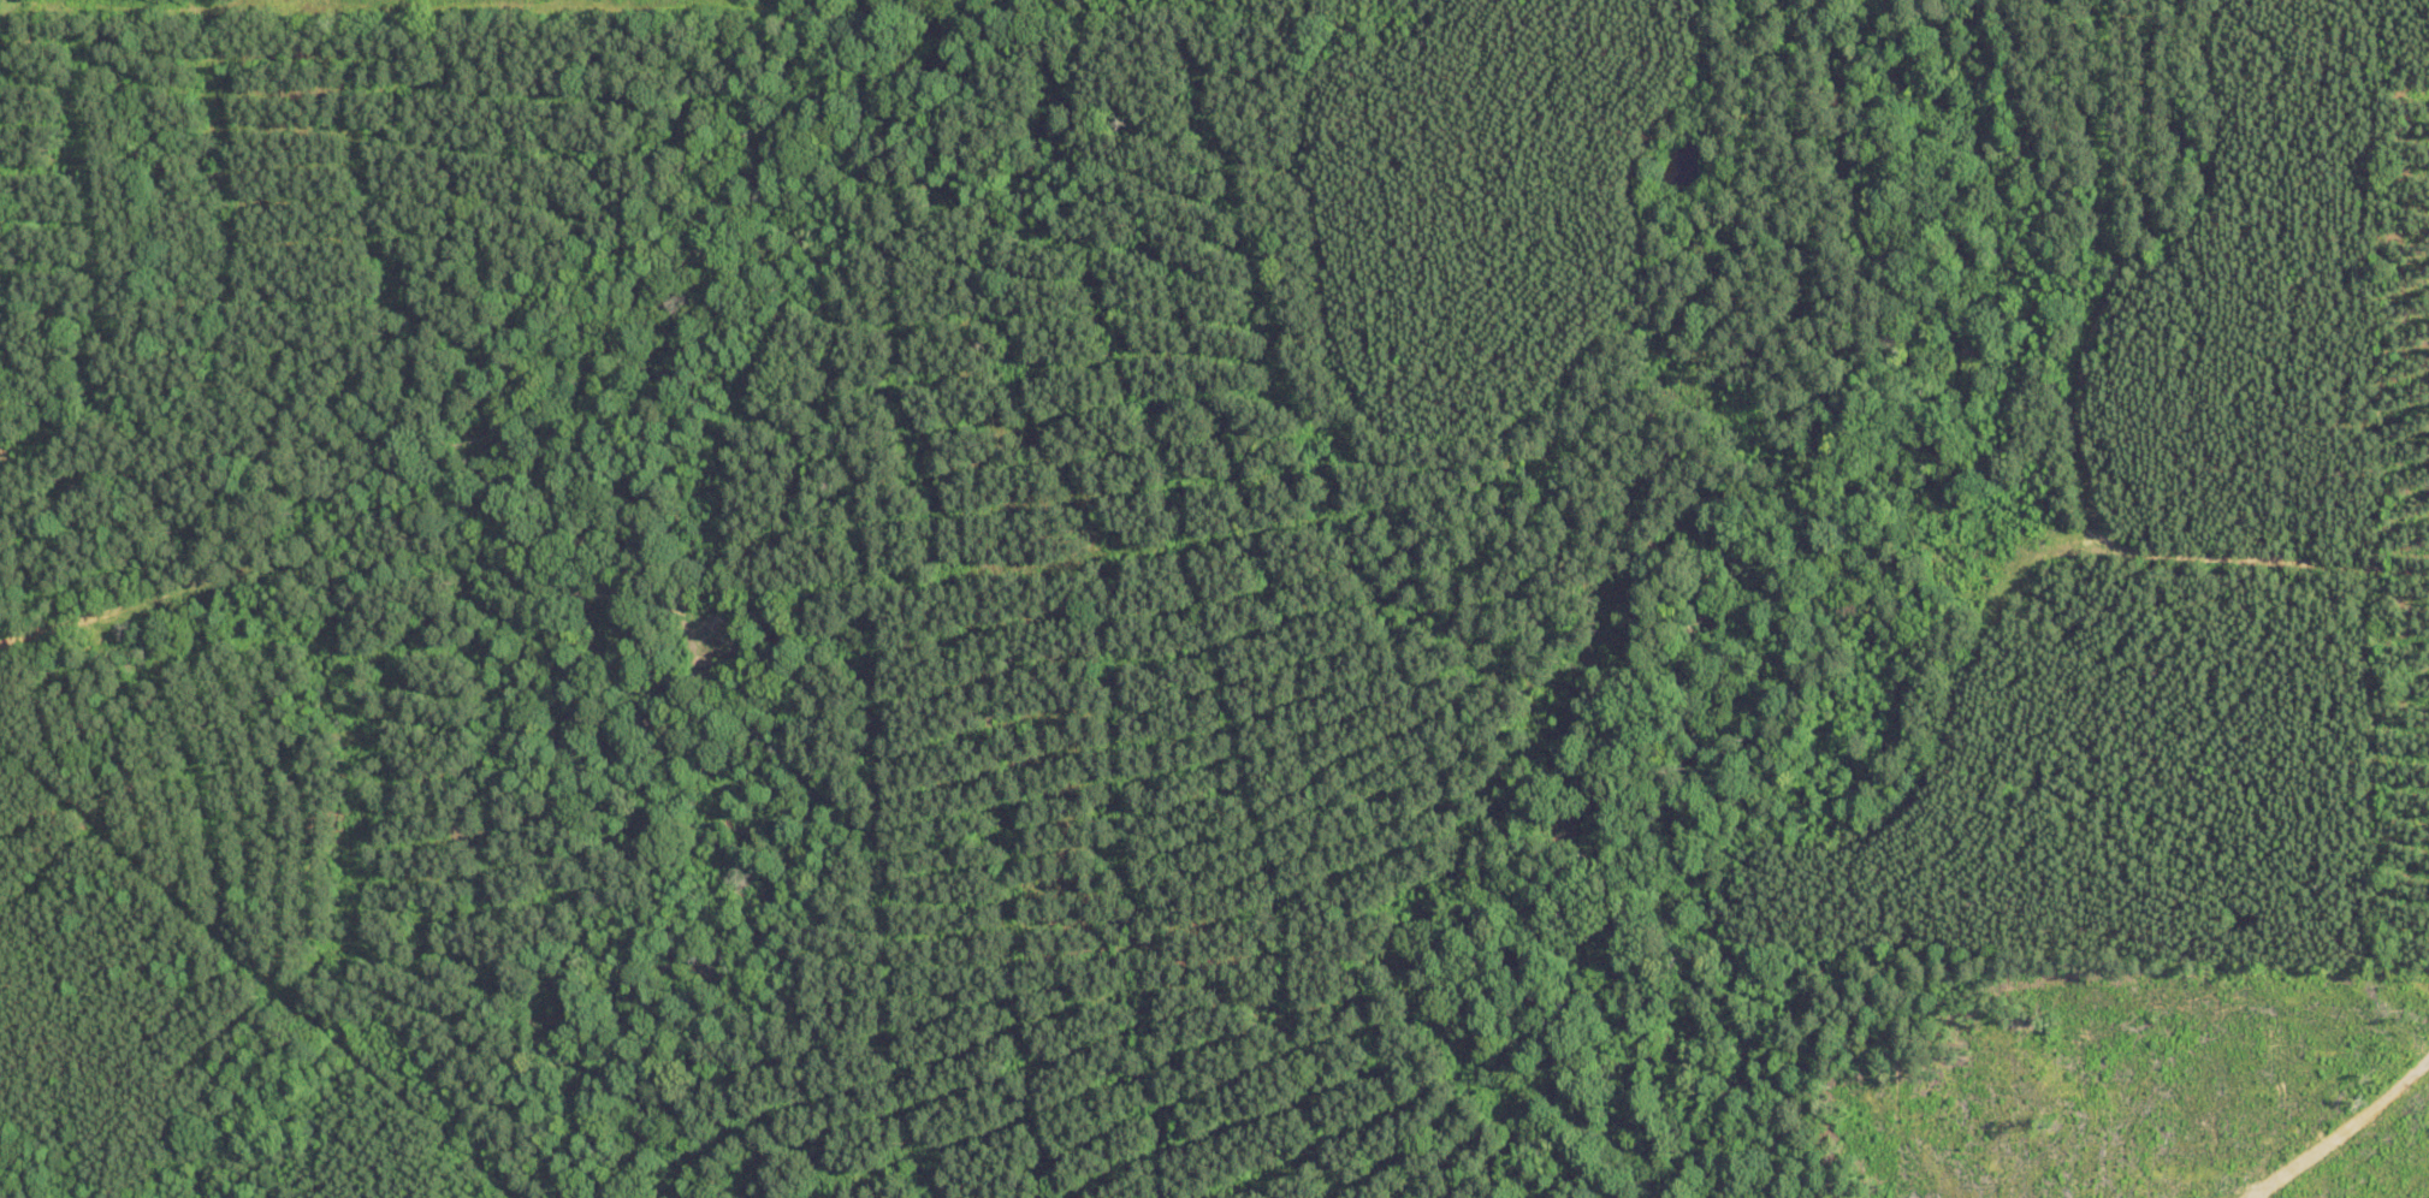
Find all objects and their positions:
road: (2339, 1126)

